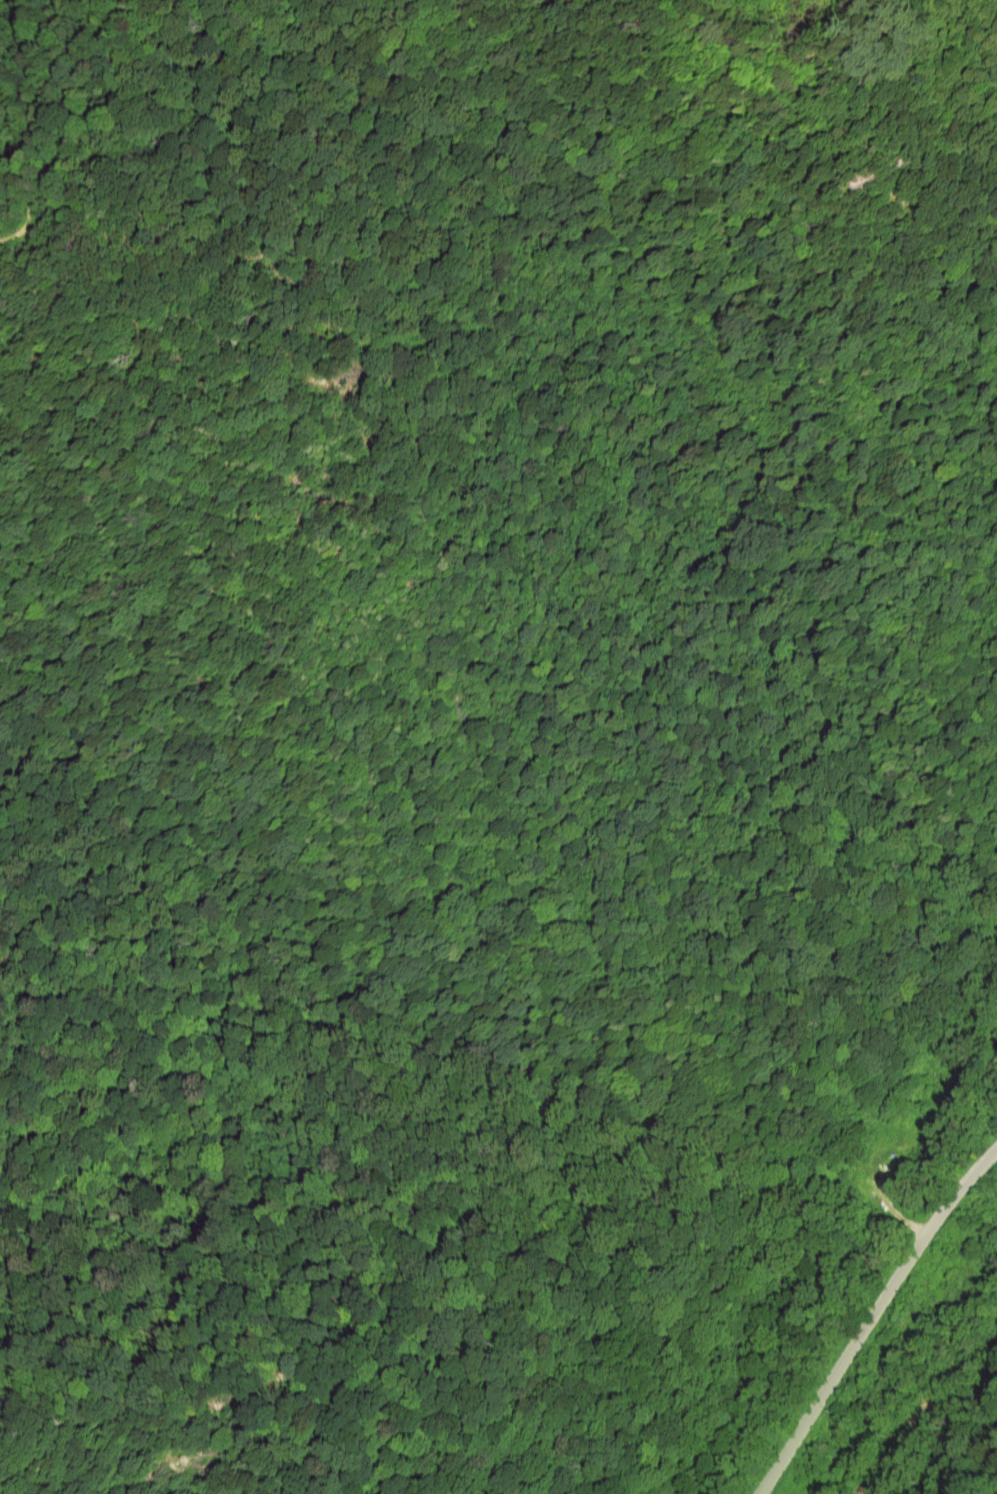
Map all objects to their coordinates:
road: (876, 1315)

